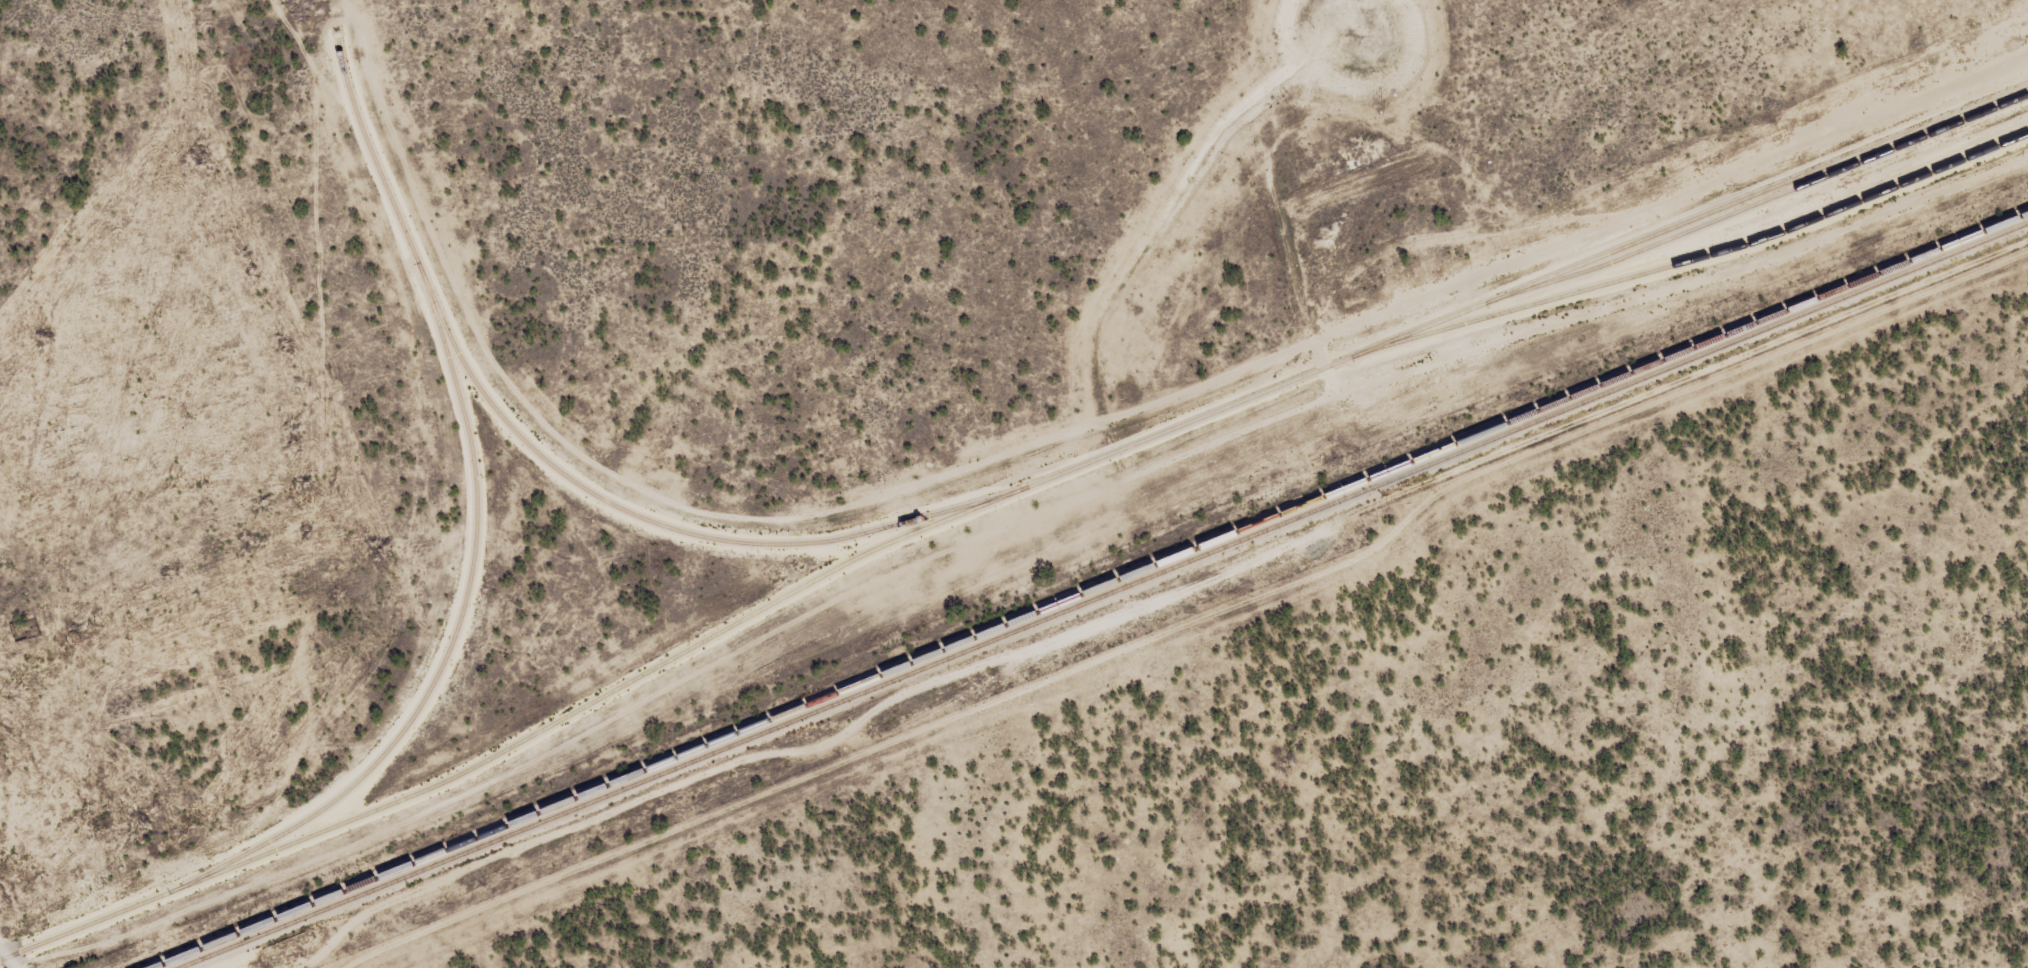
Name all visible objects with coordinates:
railway: (1752, 206)
railway: (1686, 262)
railway: (1001, 495)
railway: (631, 512)
railway: (475, 532)
railway: (1088, 590)
railway: (1102, 594)

